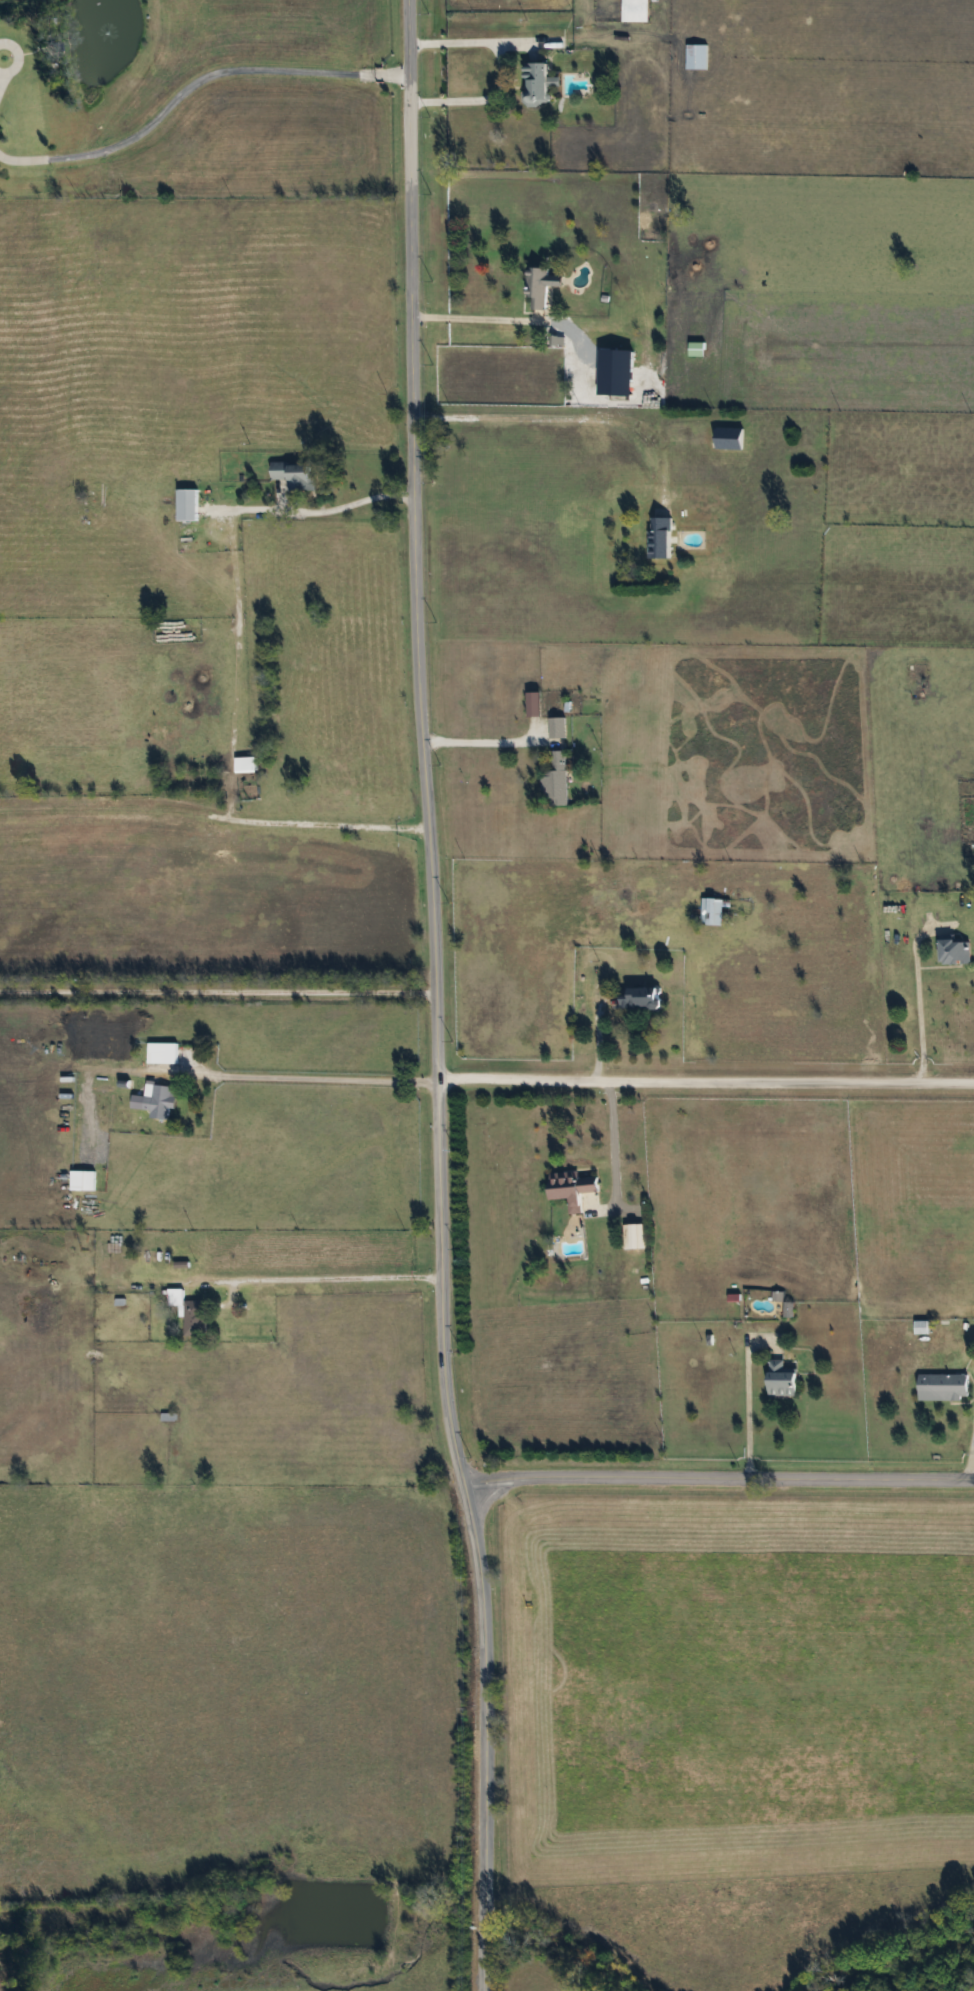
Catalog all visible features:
building: (633, 11)
building: (693, 57)
road: (500, 72)
road: (194, 83)
building: (533, 83)
building: (538, 289)
road: (474, 320)
building: (696, 349)
road: (572, 417)
building: (728, 439)
building: (293, 475)
building: (185, 505)
road: (318, 511)
building: (661, 537)
road: (236, 622)
road: (474, 742)
building: (243, 765)
building: (555, 781)
road: (290, 819)
building: (711, 910)
building: (951, 949)
road: (219, 991)
road: (438, 997)
building: (639, 997)
road: (922, 1028)
building: (160, 1052)
road: (324, 1079)
road: (706, 1082)
building: (156, 1101)
road: (606, 1133)
building: (87, 1180)
building: (568, 1188)
building: (632, 1236)
road: (337, 1278)
building: (188, 1312)
building: (779, 1380)
building: (942, 1387)
road: (743, 1413)
road: (970, 1462)
road: (719, 1481)
road: (909, 1571)

